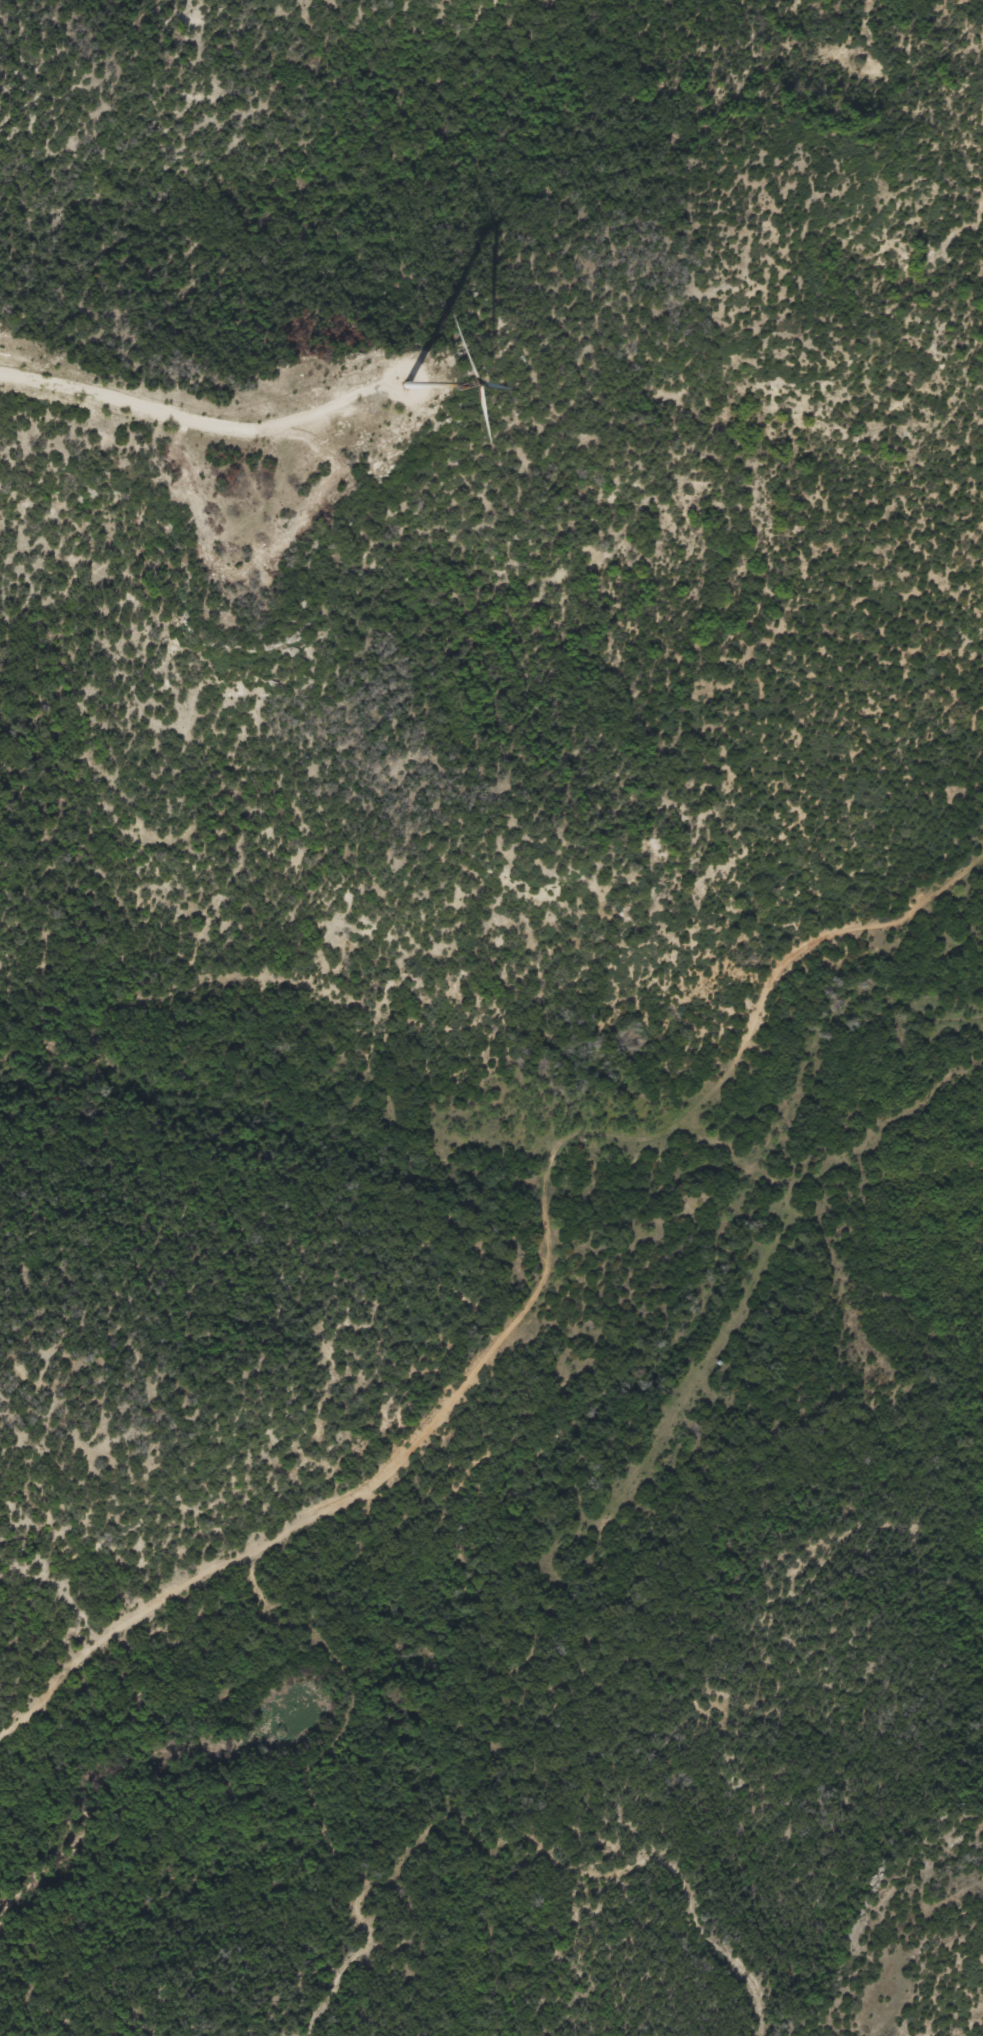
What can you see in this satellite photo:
wind turbine: (406, 384)
road: (194, 419)
road: (280, 1533)

